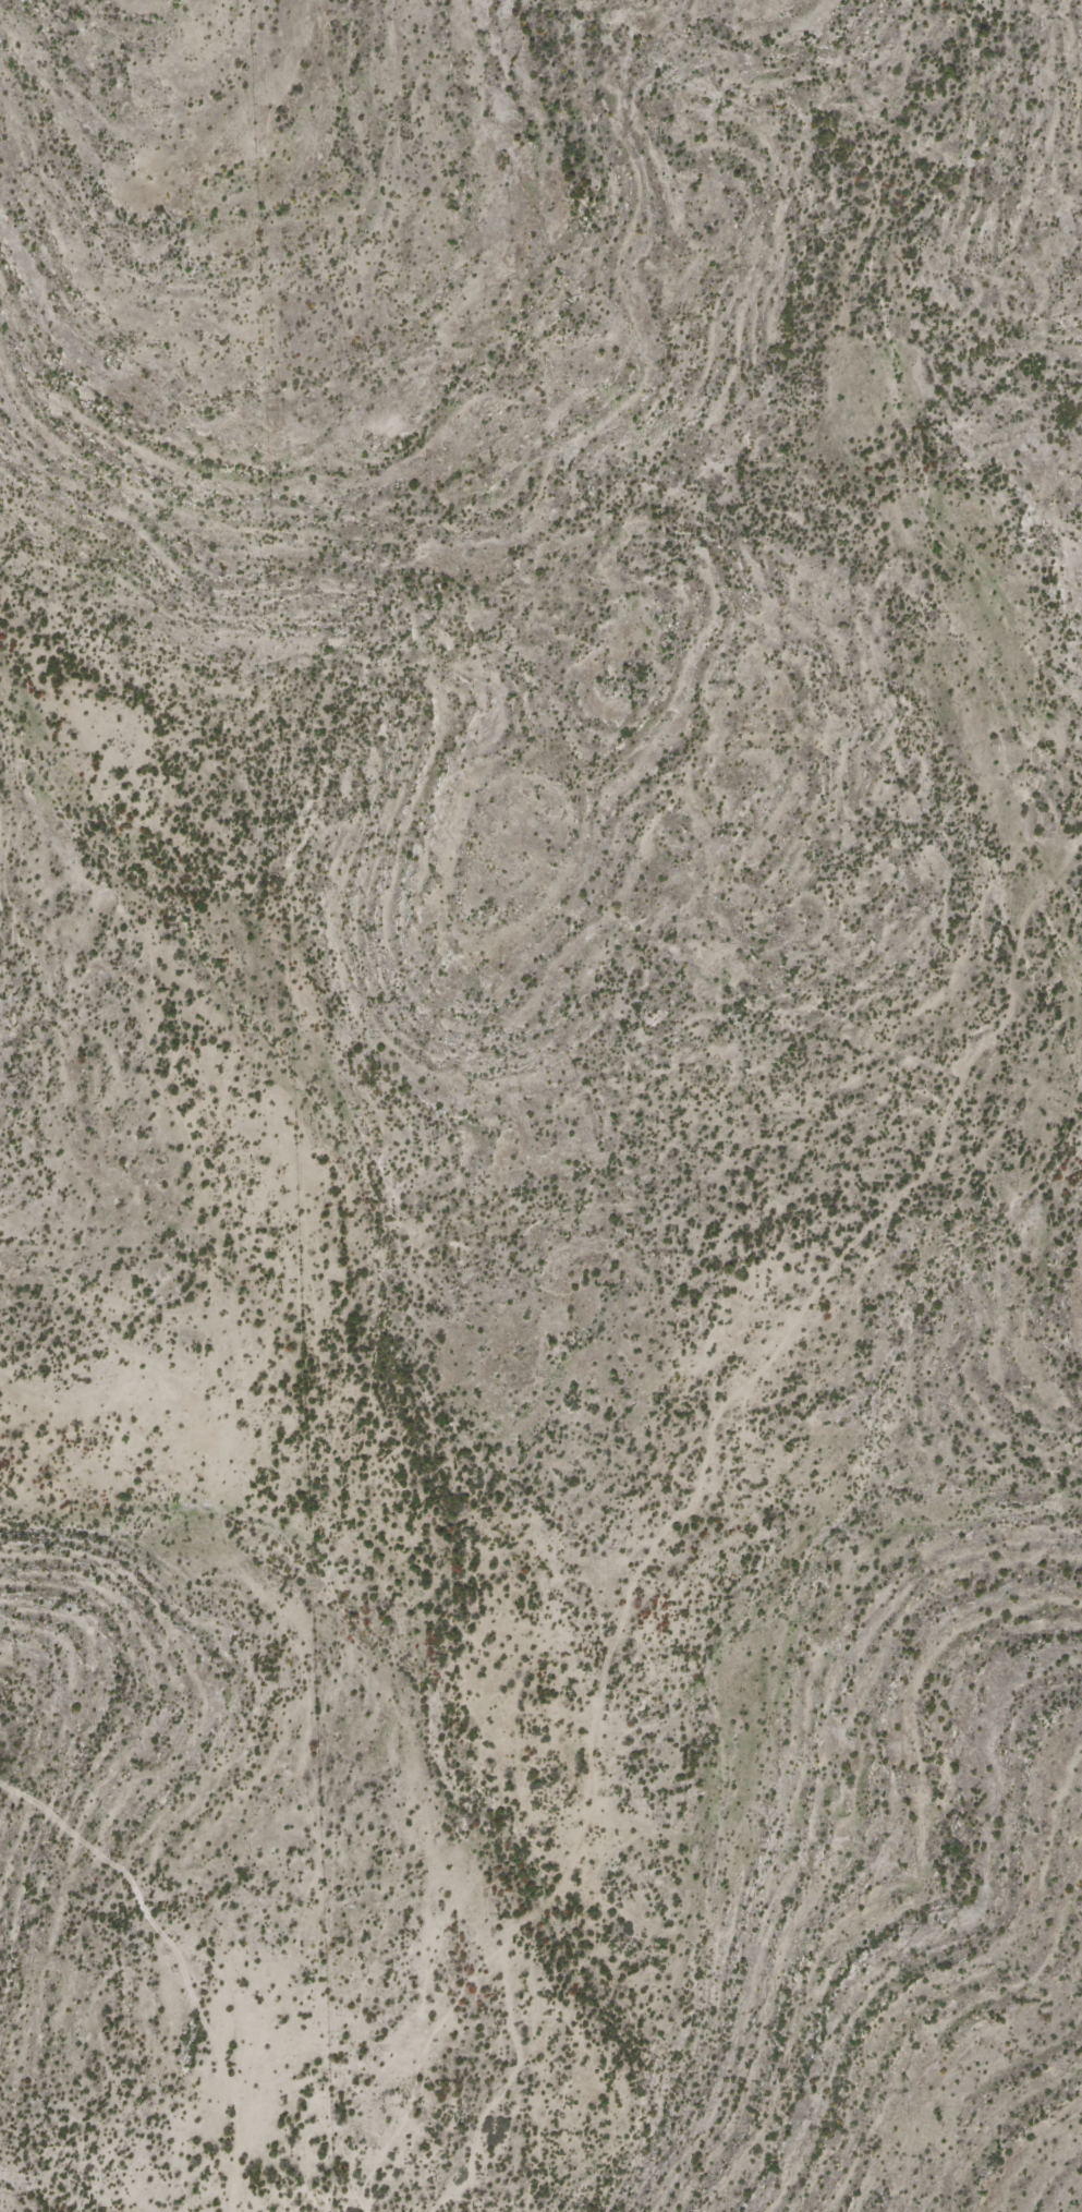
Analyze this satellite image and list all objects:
road: (182, 1961)

